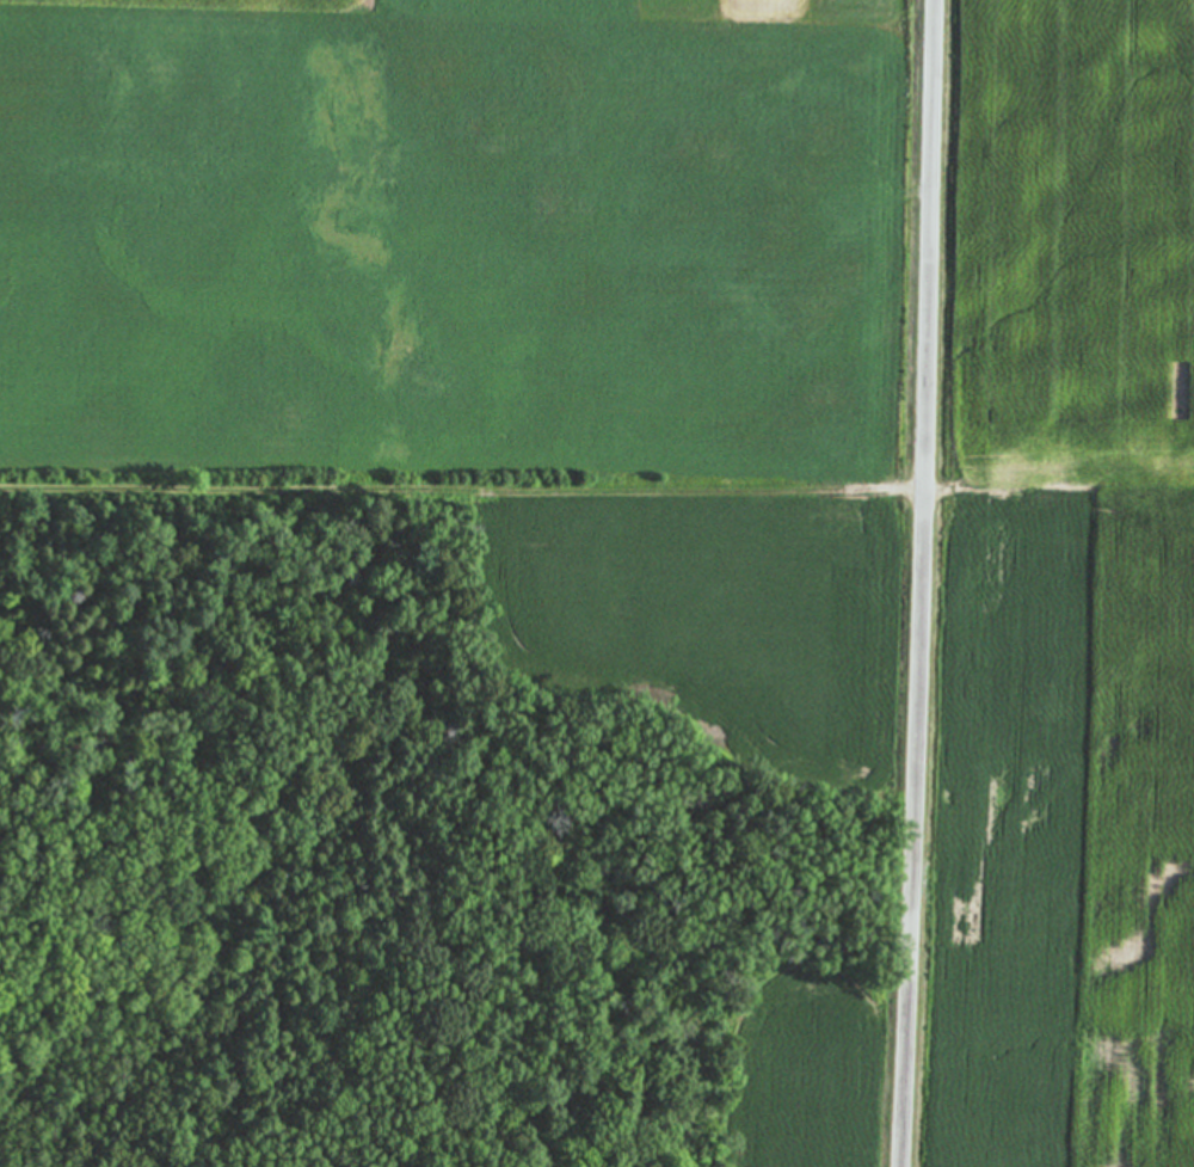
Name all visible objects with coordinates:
road: (924, 583)

